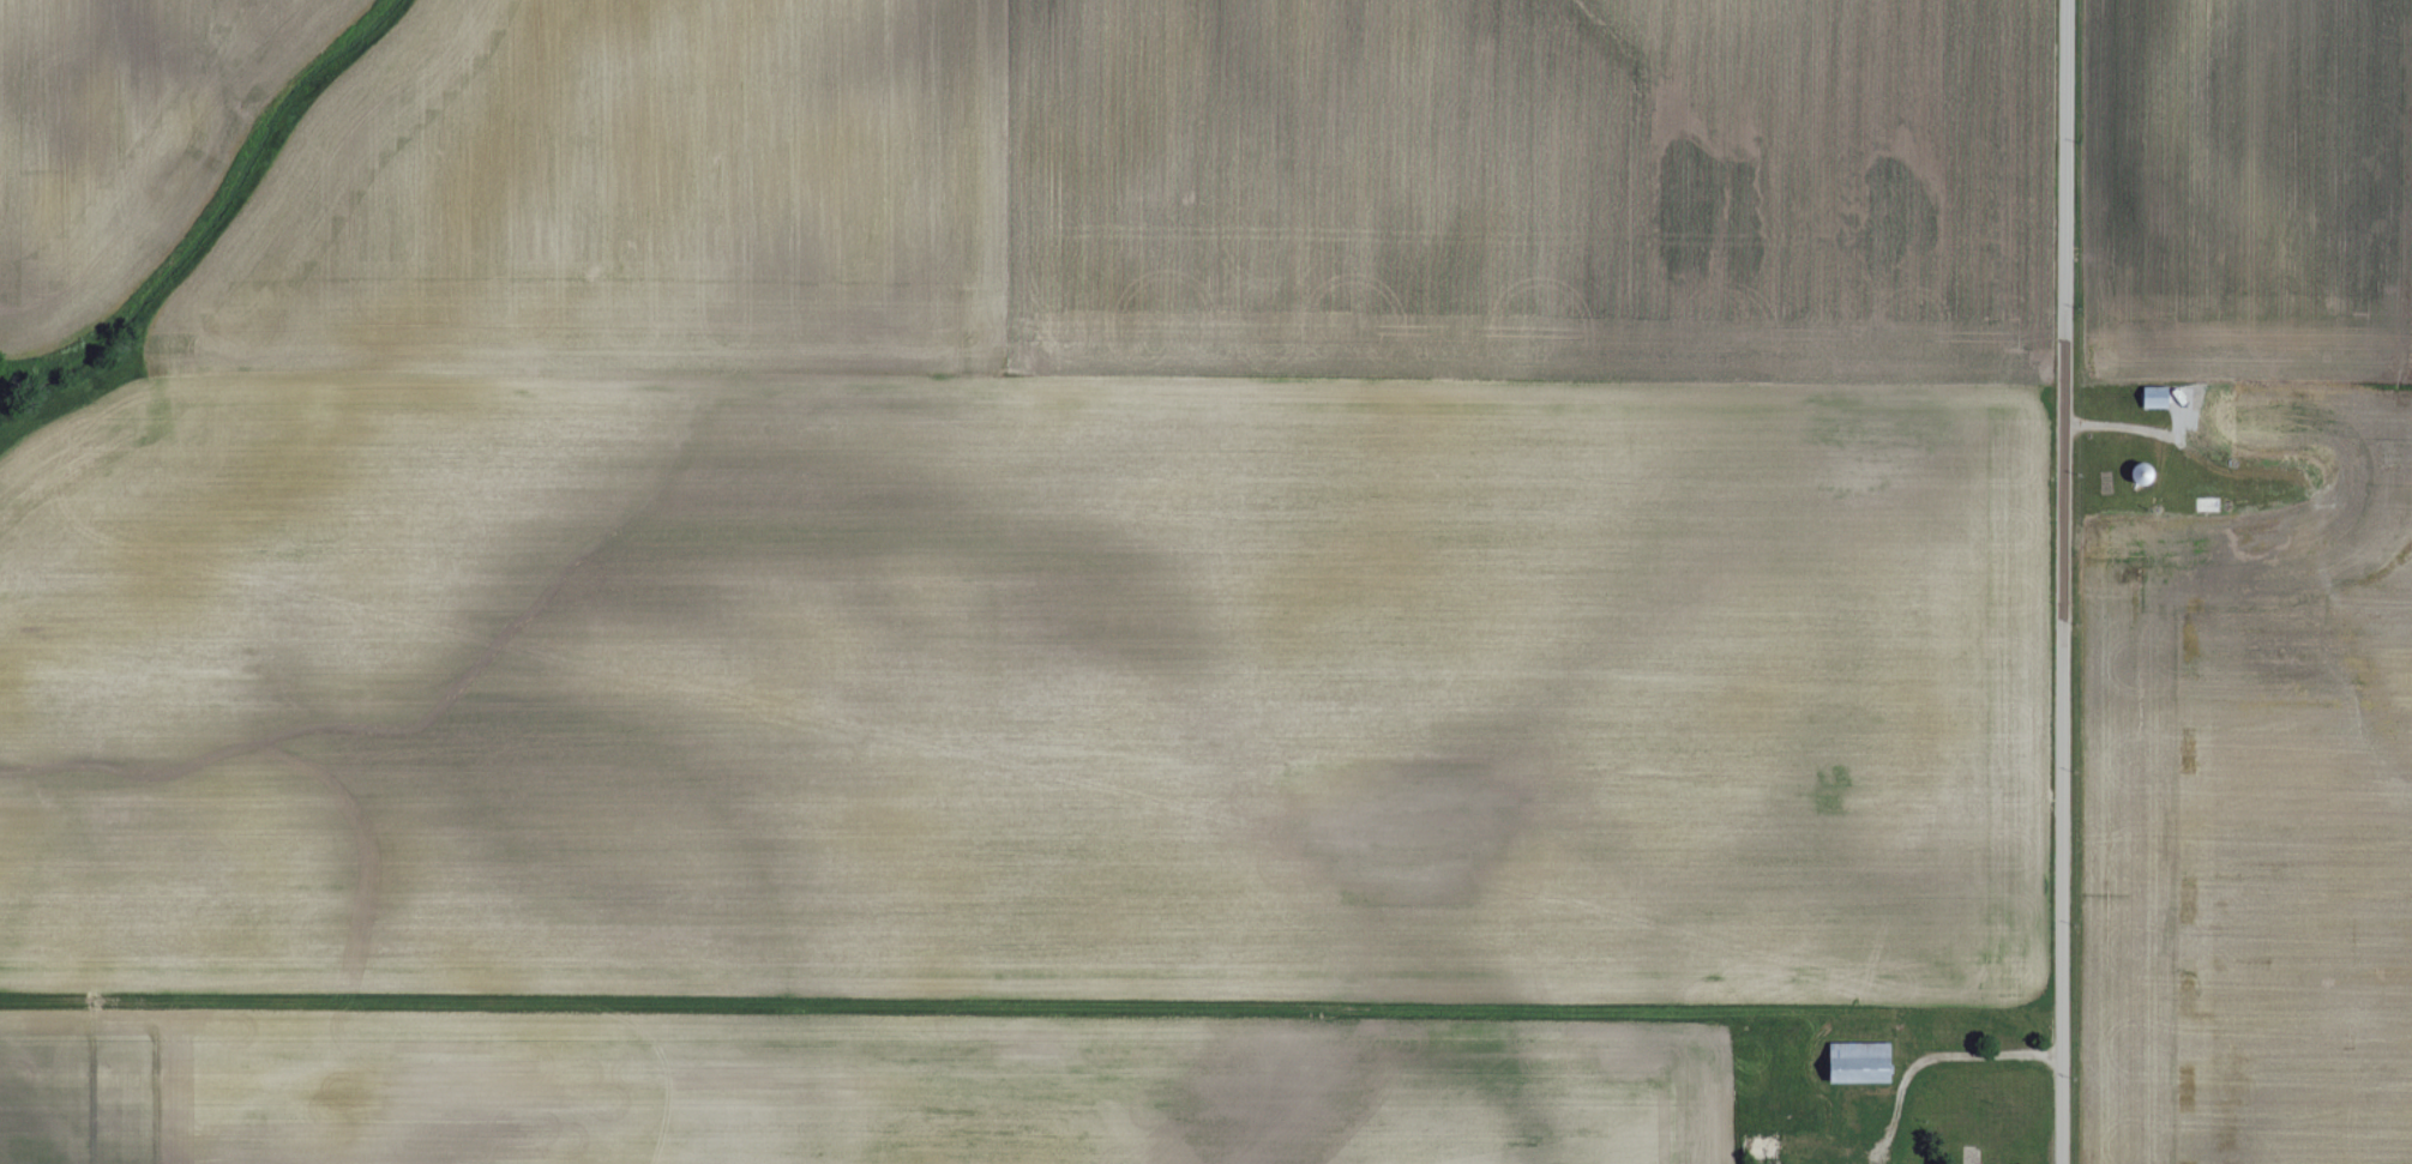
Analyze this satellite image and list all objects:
road: (2063, 581)
road: (1936, 1054)

